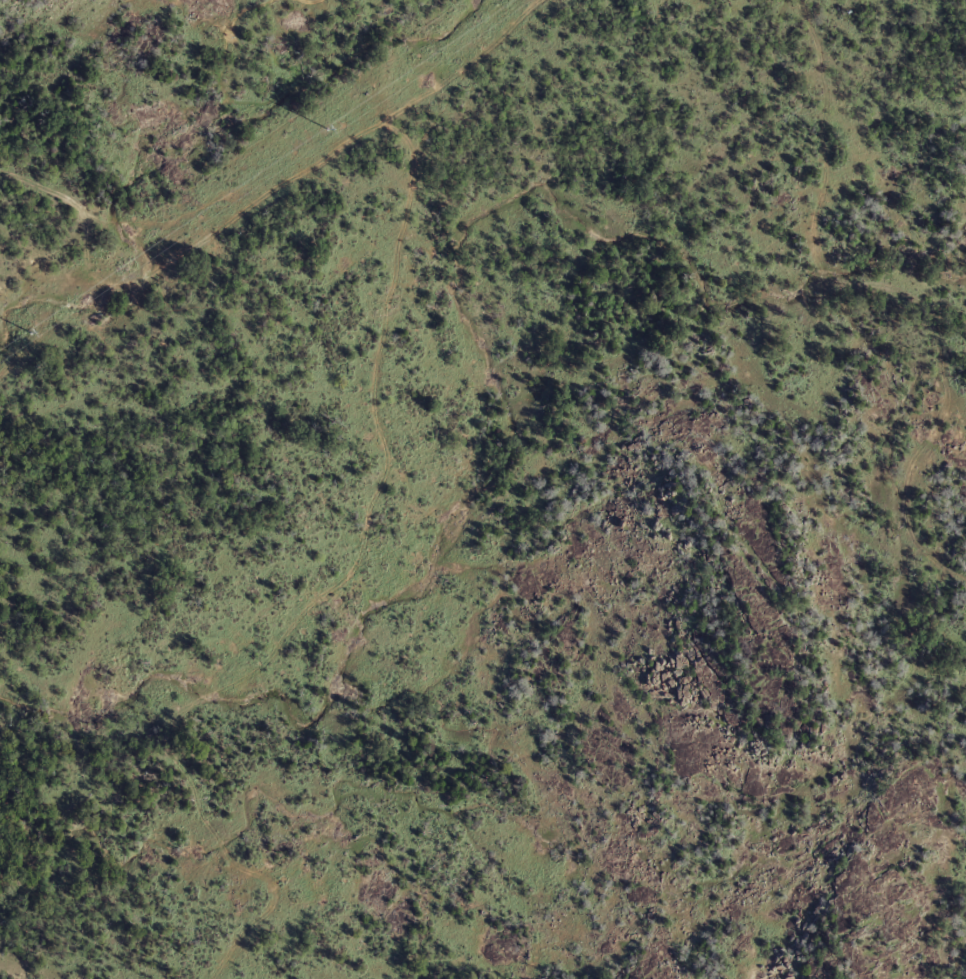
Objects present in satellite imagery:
power tower: (326, 126)
road: (287, 179)
road: (887, 292)
power tower: (29, 330)
road: (385, 497)

